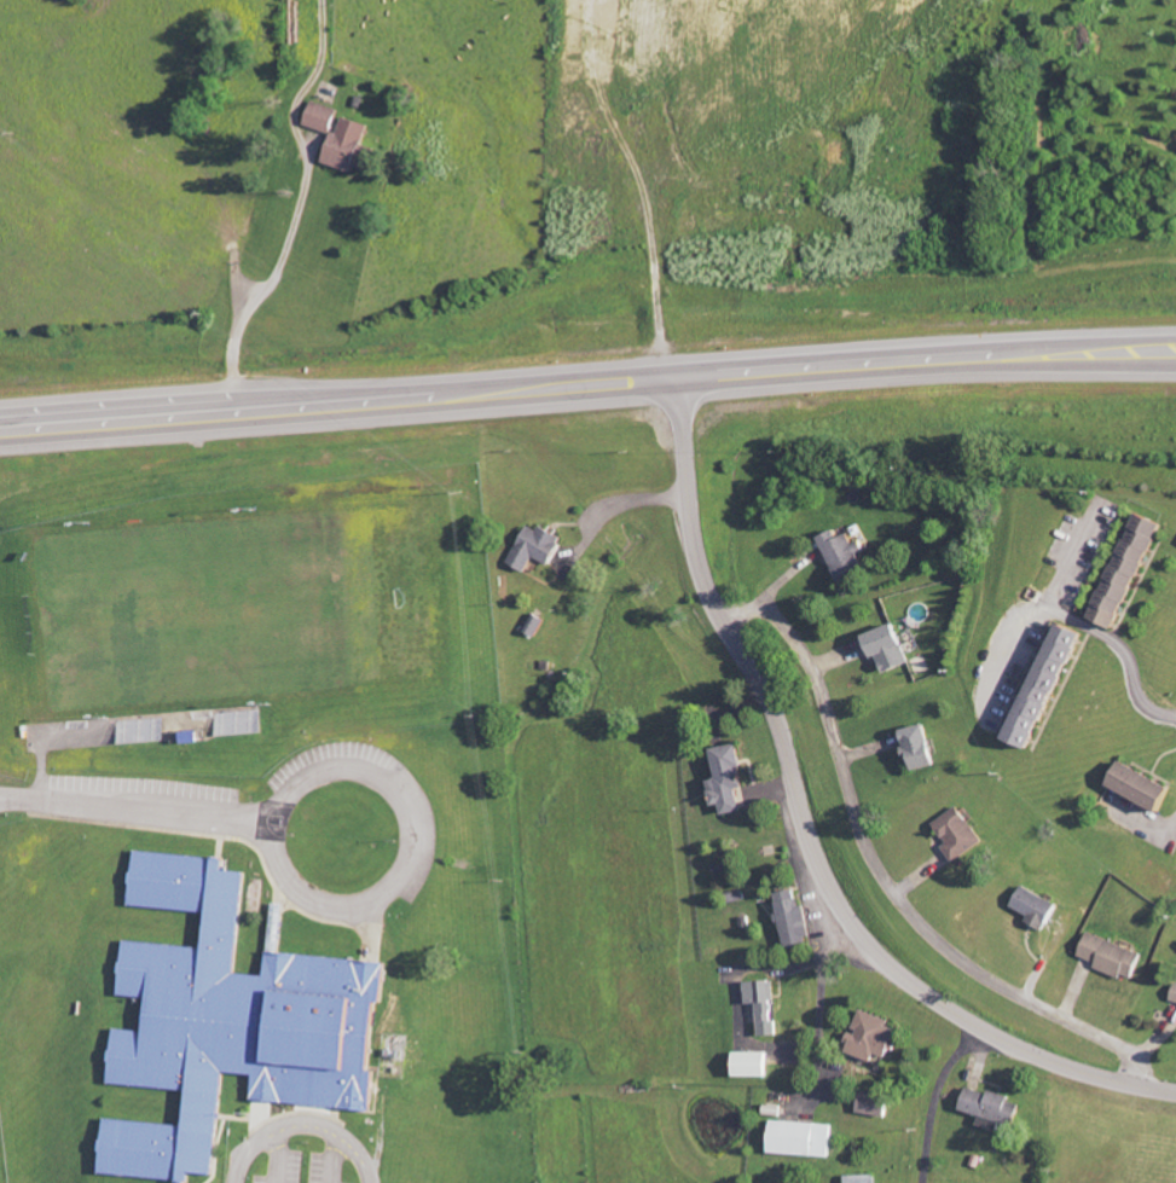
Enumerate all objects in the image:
building: (324, 116)
building: (353, 145)
road: (587, 382)
road: (612, 506)
building: (540, 546)
building: (846, 556)
building: (1131, 569)
road: (1035, 608)
park: (190, 611)
building: (538, 624)
building: (891, 648)
road: (1125, 651)
building: (1050, 683)
building: (921, 746)
building: (731, 778)
building: (1148, 785)
road: (135, 807)
road: (411, 824)
road: (807, 828)
building: (961, 833)
road: (888, 874)
building: (1041, 907)
building: (795, 921)
building: (1114, 956)
building: (1175, 998)
building: (765, 1005)
building: (236, 1022)
building: (875, 1037)
building: (753, 1065)
road: (937, 1096)
building: (877, 1104)
building: (998, 1109)
road: (305, 1124)
building: (804, 1138)
building: (867, 1178)

